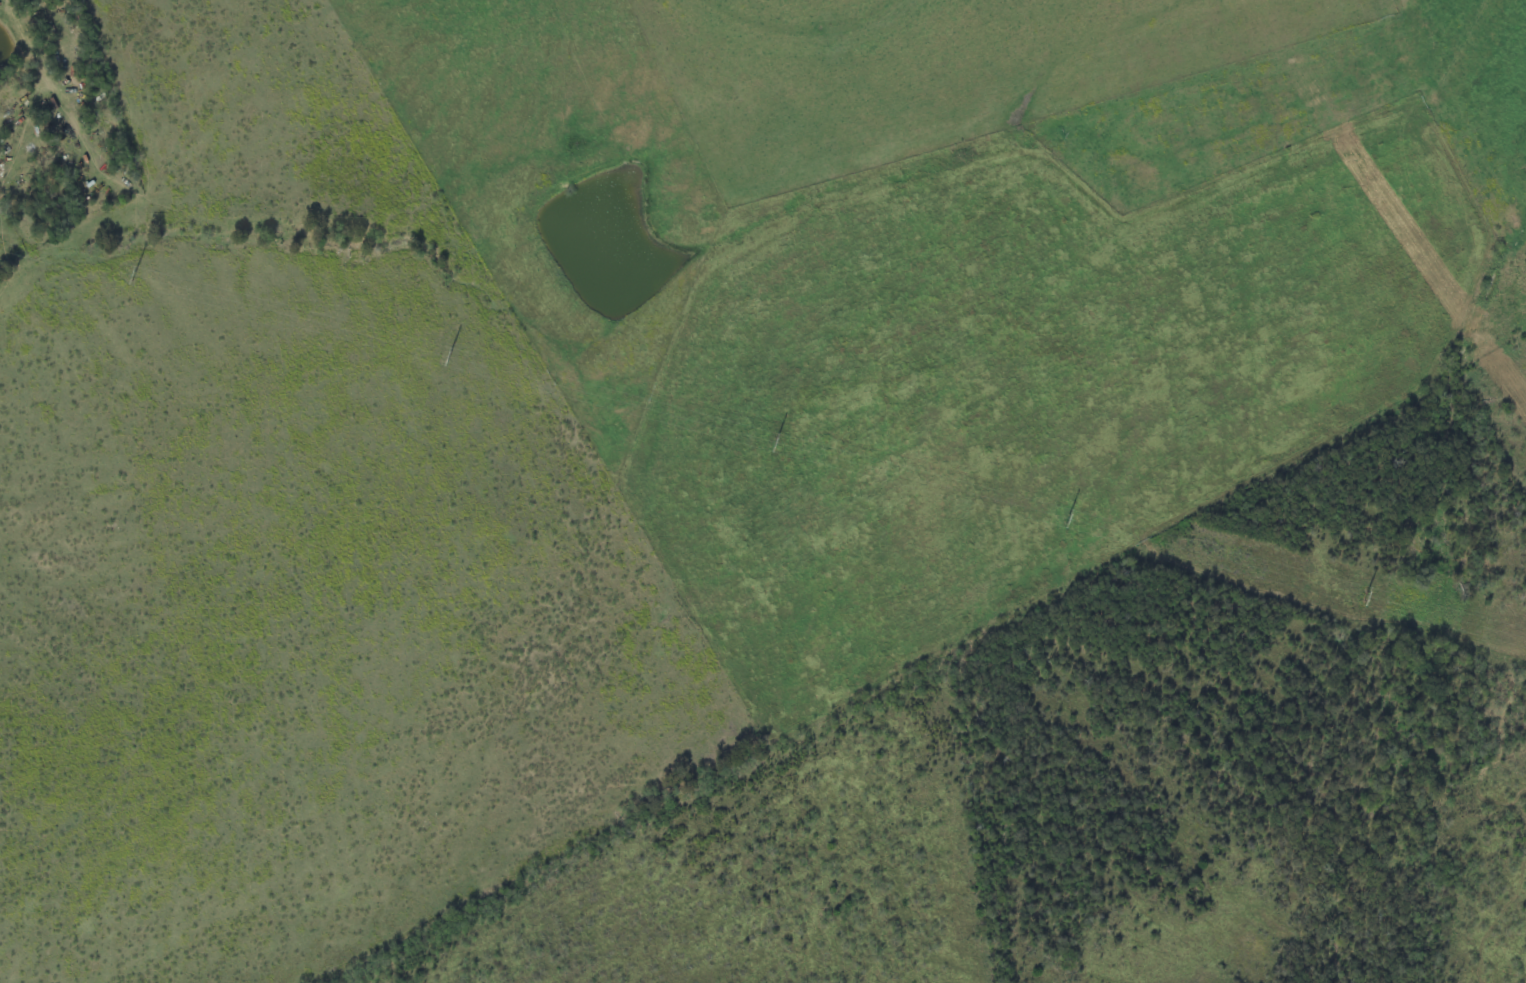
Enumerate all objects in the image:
power tower: (134, 275)
power tower: (449, 356)
power tower: (775, 441)
power tower: (1069, 517)
power tower: (1366, 594)

